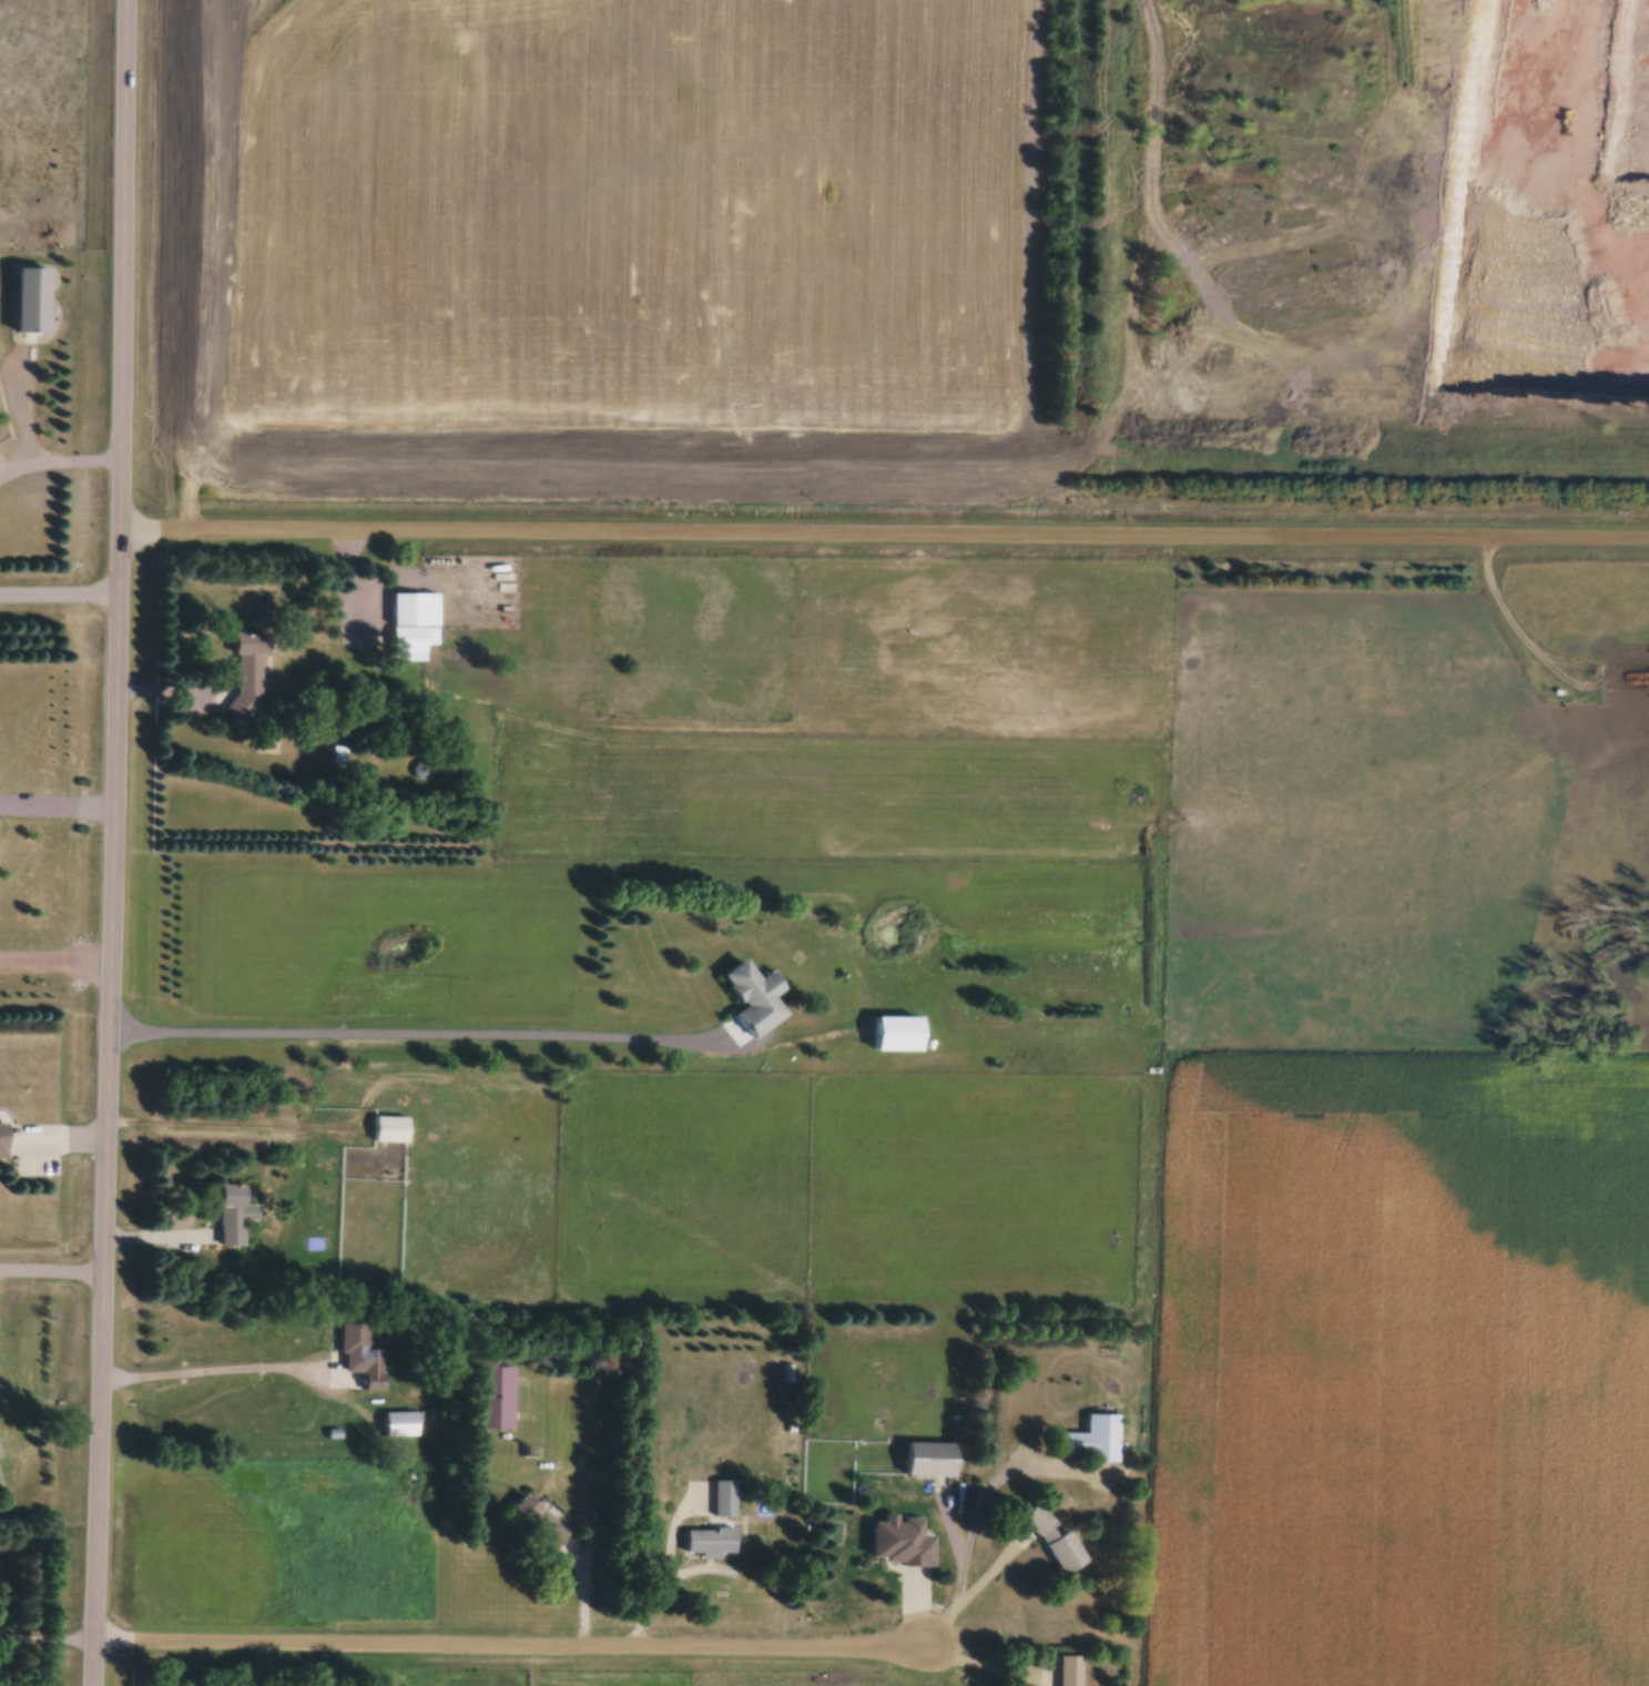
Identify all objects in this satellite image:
quarry: (1560, 231)
road: (59, 464)
road: (883, 538)
road: (59, 595)
road: (174, 689)
road: (57, 805)
road: (112, 843)
road: (413, 1036)
road: (51, 1272)
road: (206, 1374)
road: (967, 1598)
road: (45, 1638)
road: (510, 1649)
road: (986, 1666)

